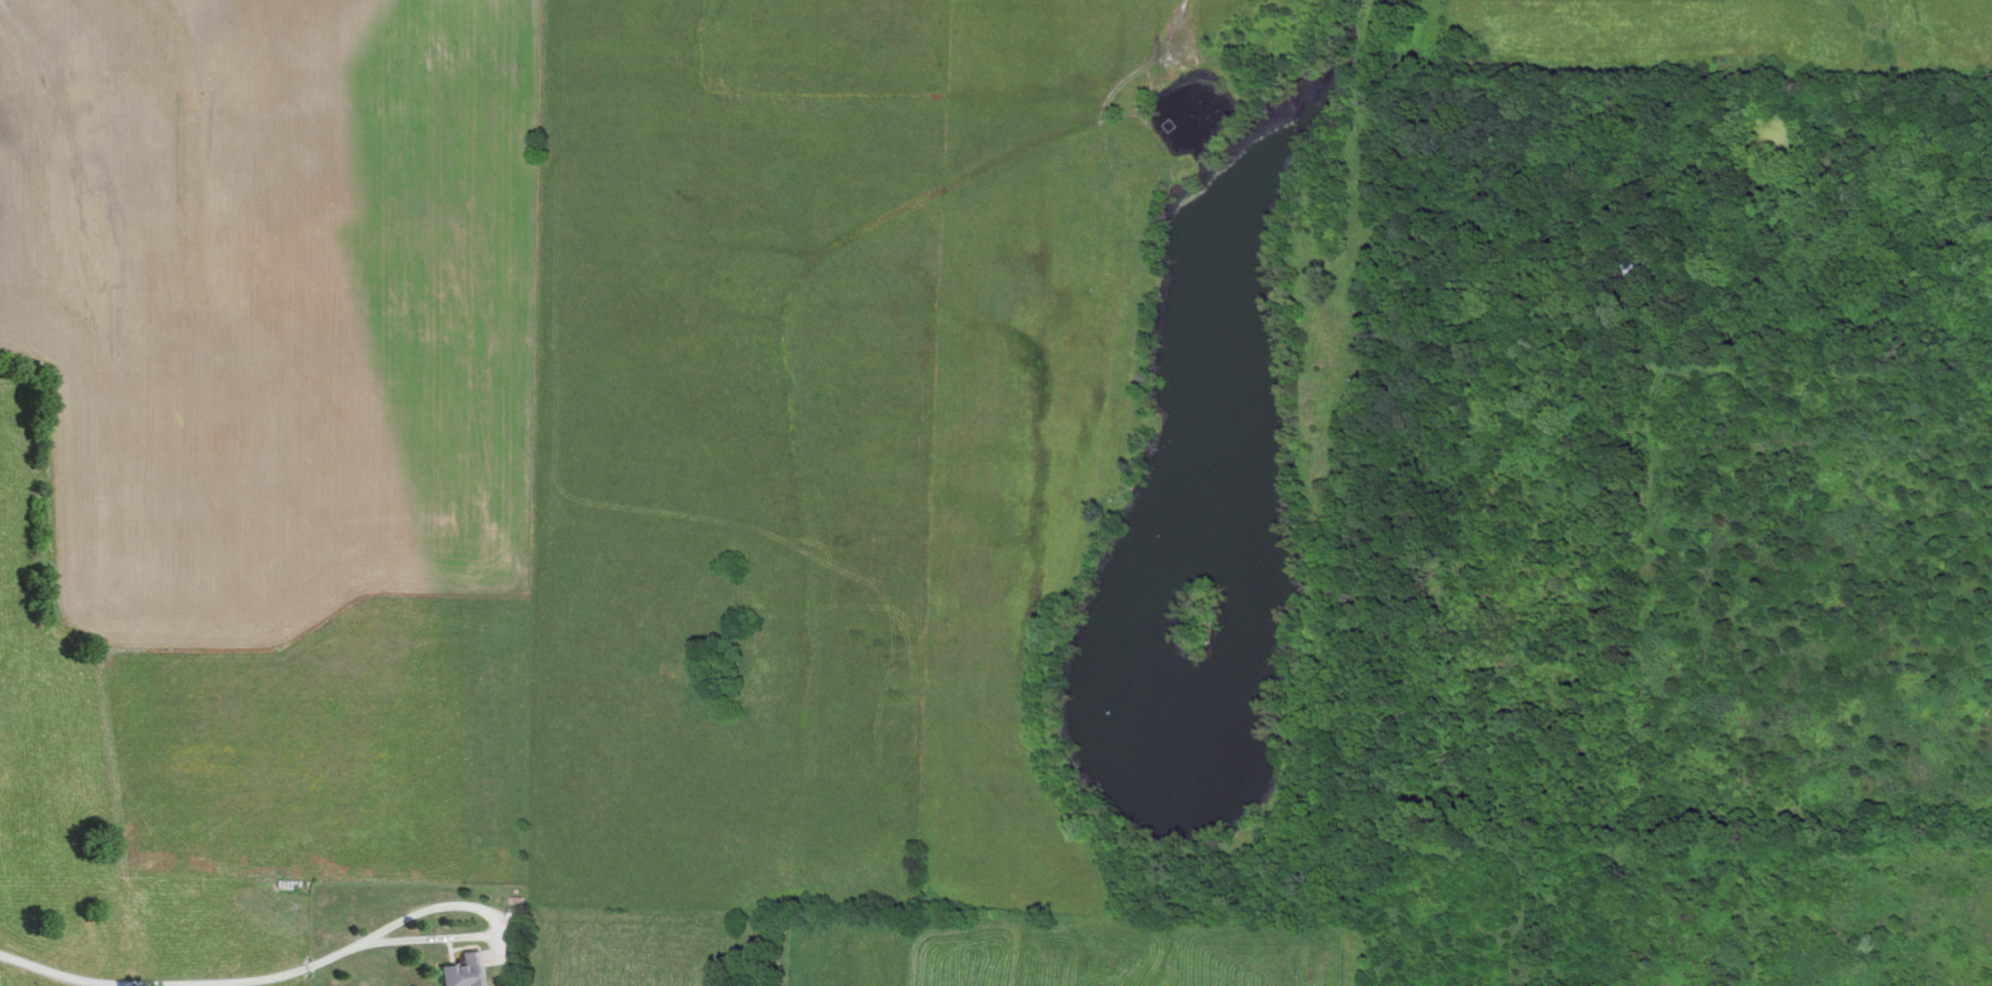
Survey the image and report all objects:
road: (1167, 31)
railway: (1357, 493)
road: (495, 917)
building: (463, 970)
road: (182, 982)

